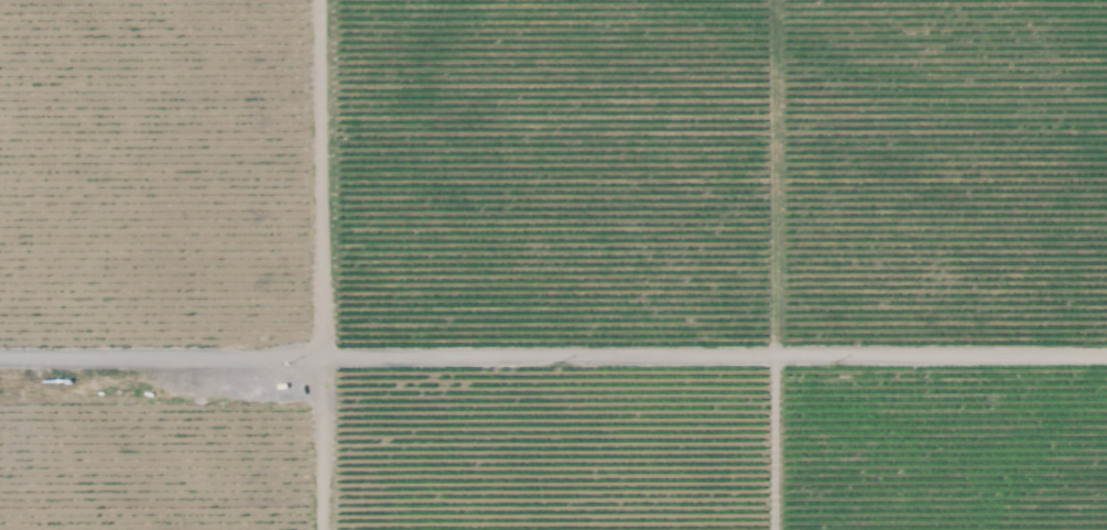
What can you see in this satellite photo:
road: (777, 264)
road: (324, 338)
road: (716, 351)

